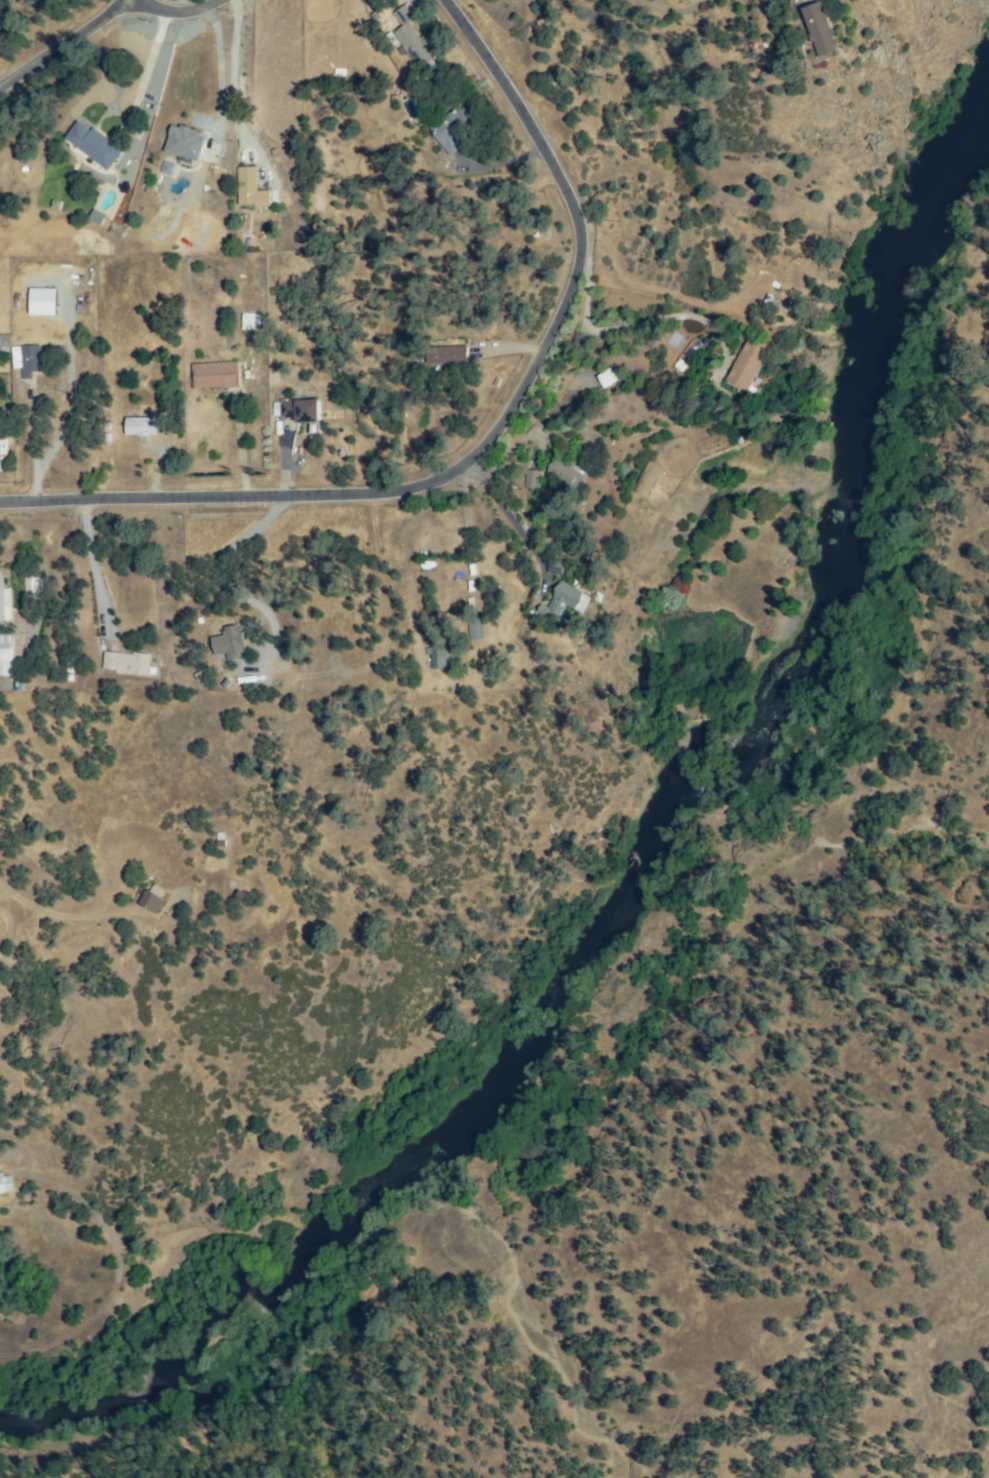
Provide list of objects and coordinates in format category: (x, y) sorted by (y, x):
road: (673, 10)
road: (176, 13)
building: (822, 30)
building: (412, 38)
road: (65, 47)
road: (156, 66)
building: (858, 74)
road: (233, 78)
road: (217, 89)
building: (454, 129)
building: (186, 144)
building: (94, 145)
building: (164, 168)
building: (251, 189)
building: (94, 217)
building: (249, 320)
road: (636, 322)
building: (447, 355)
building: (31, 361)
building: (748, 363)
building: (216, 376)
building: (608, 378)
building: (300, 411)
building: (144, 427)
road: (489, 443)
road: (29, 445)
road: (239, 445)
building: (567, 474)
building: (531, 479)
building: (647, 479)
road: (506, 517)
road: (468, 534)
road: (90, 567)
building: (557, 567)
road: (213, 577)
building: (2, 593)
building: (567, 601)
building: (477, 629)
building: (230, 644)
building: (439, 654)
building: (5, 663)
building: (126, 663)
river: (651, 852)
building: (152, 899)
road: (55, 906)
building: (3, 1185)

